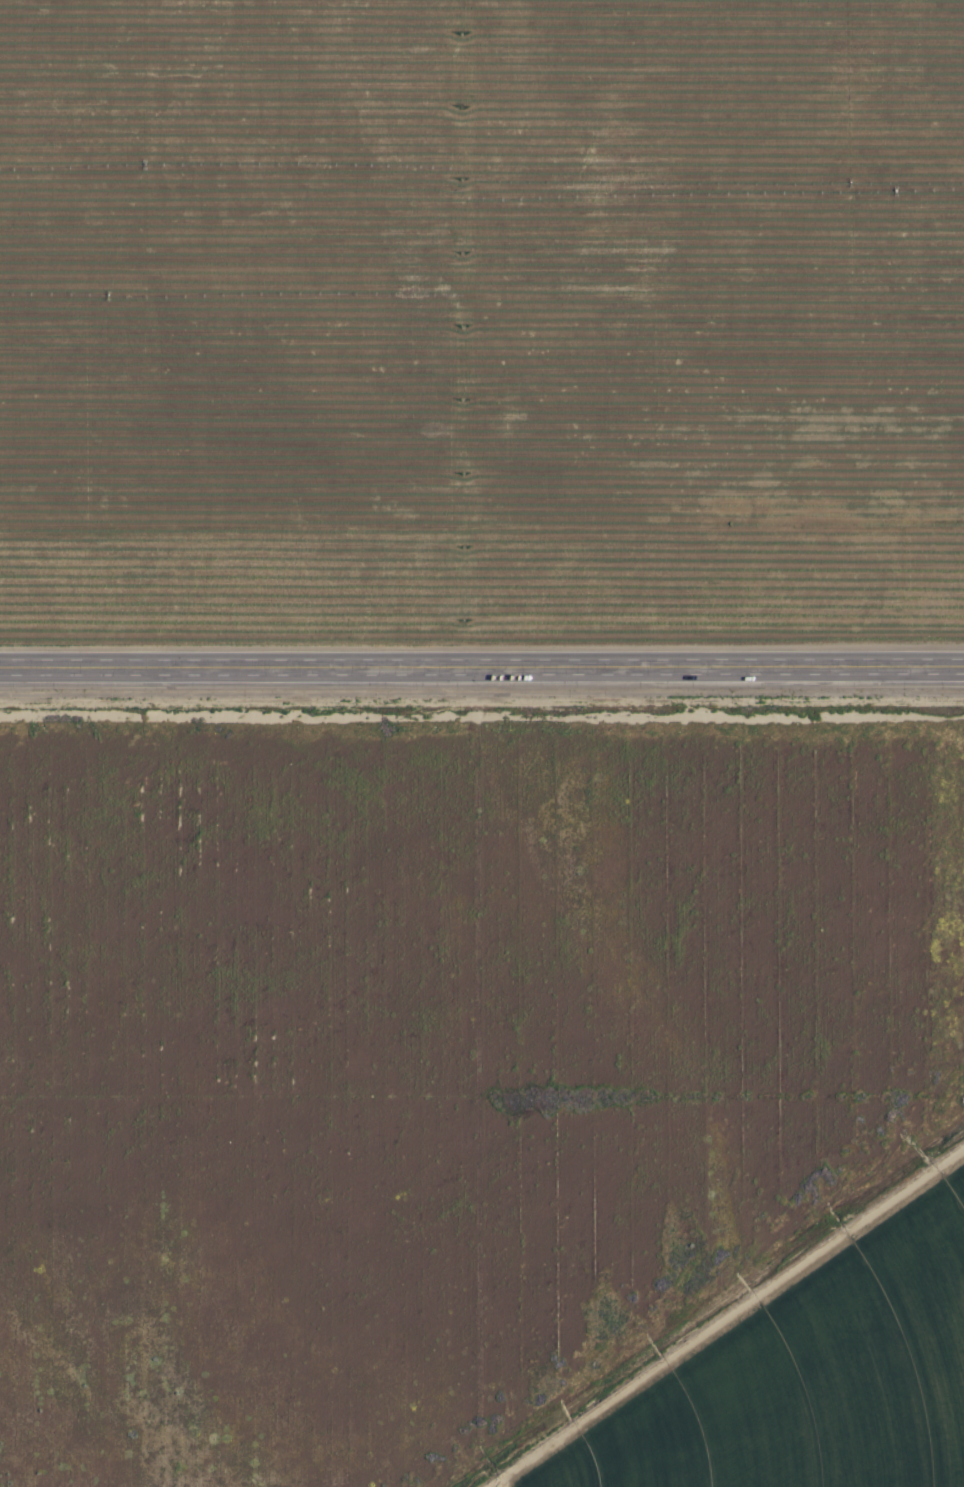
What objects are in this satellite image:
crop: (480, 323)
road: (482, 657)
crop: (799, 1371)

